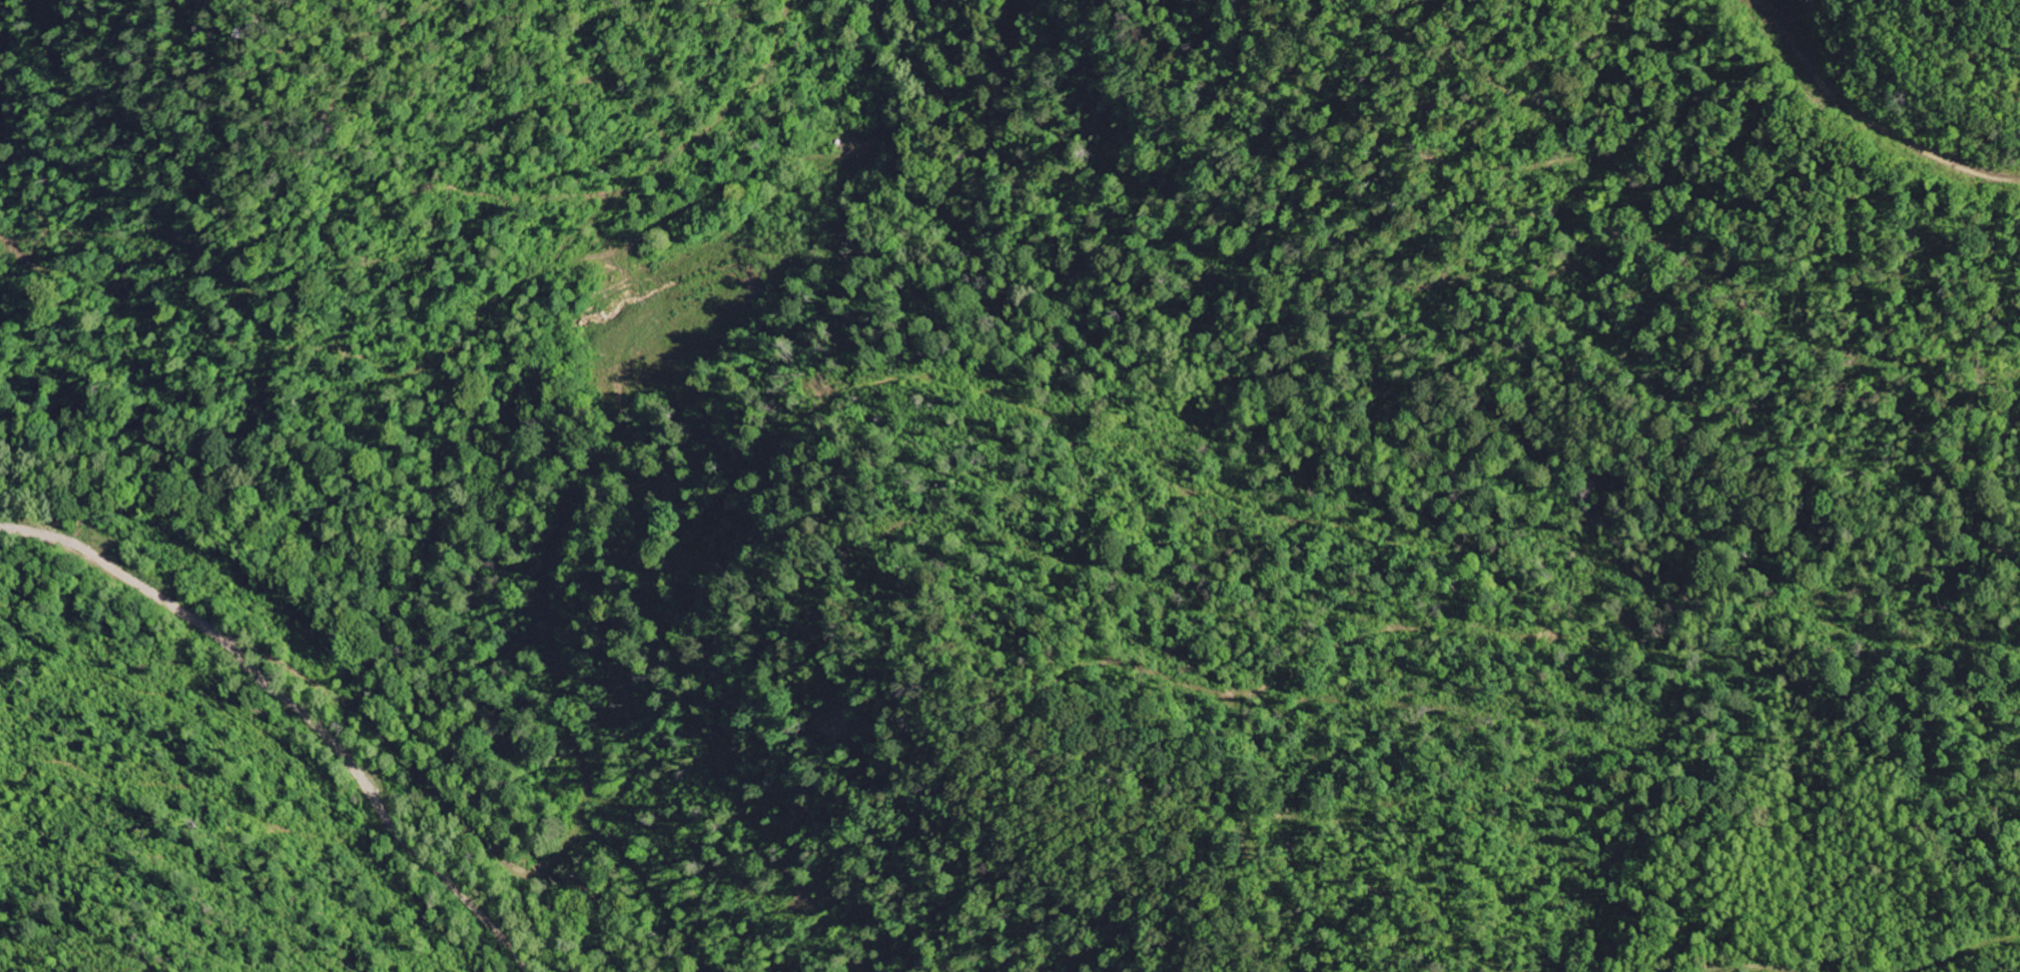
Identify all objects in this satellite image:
road: (285, 712)

